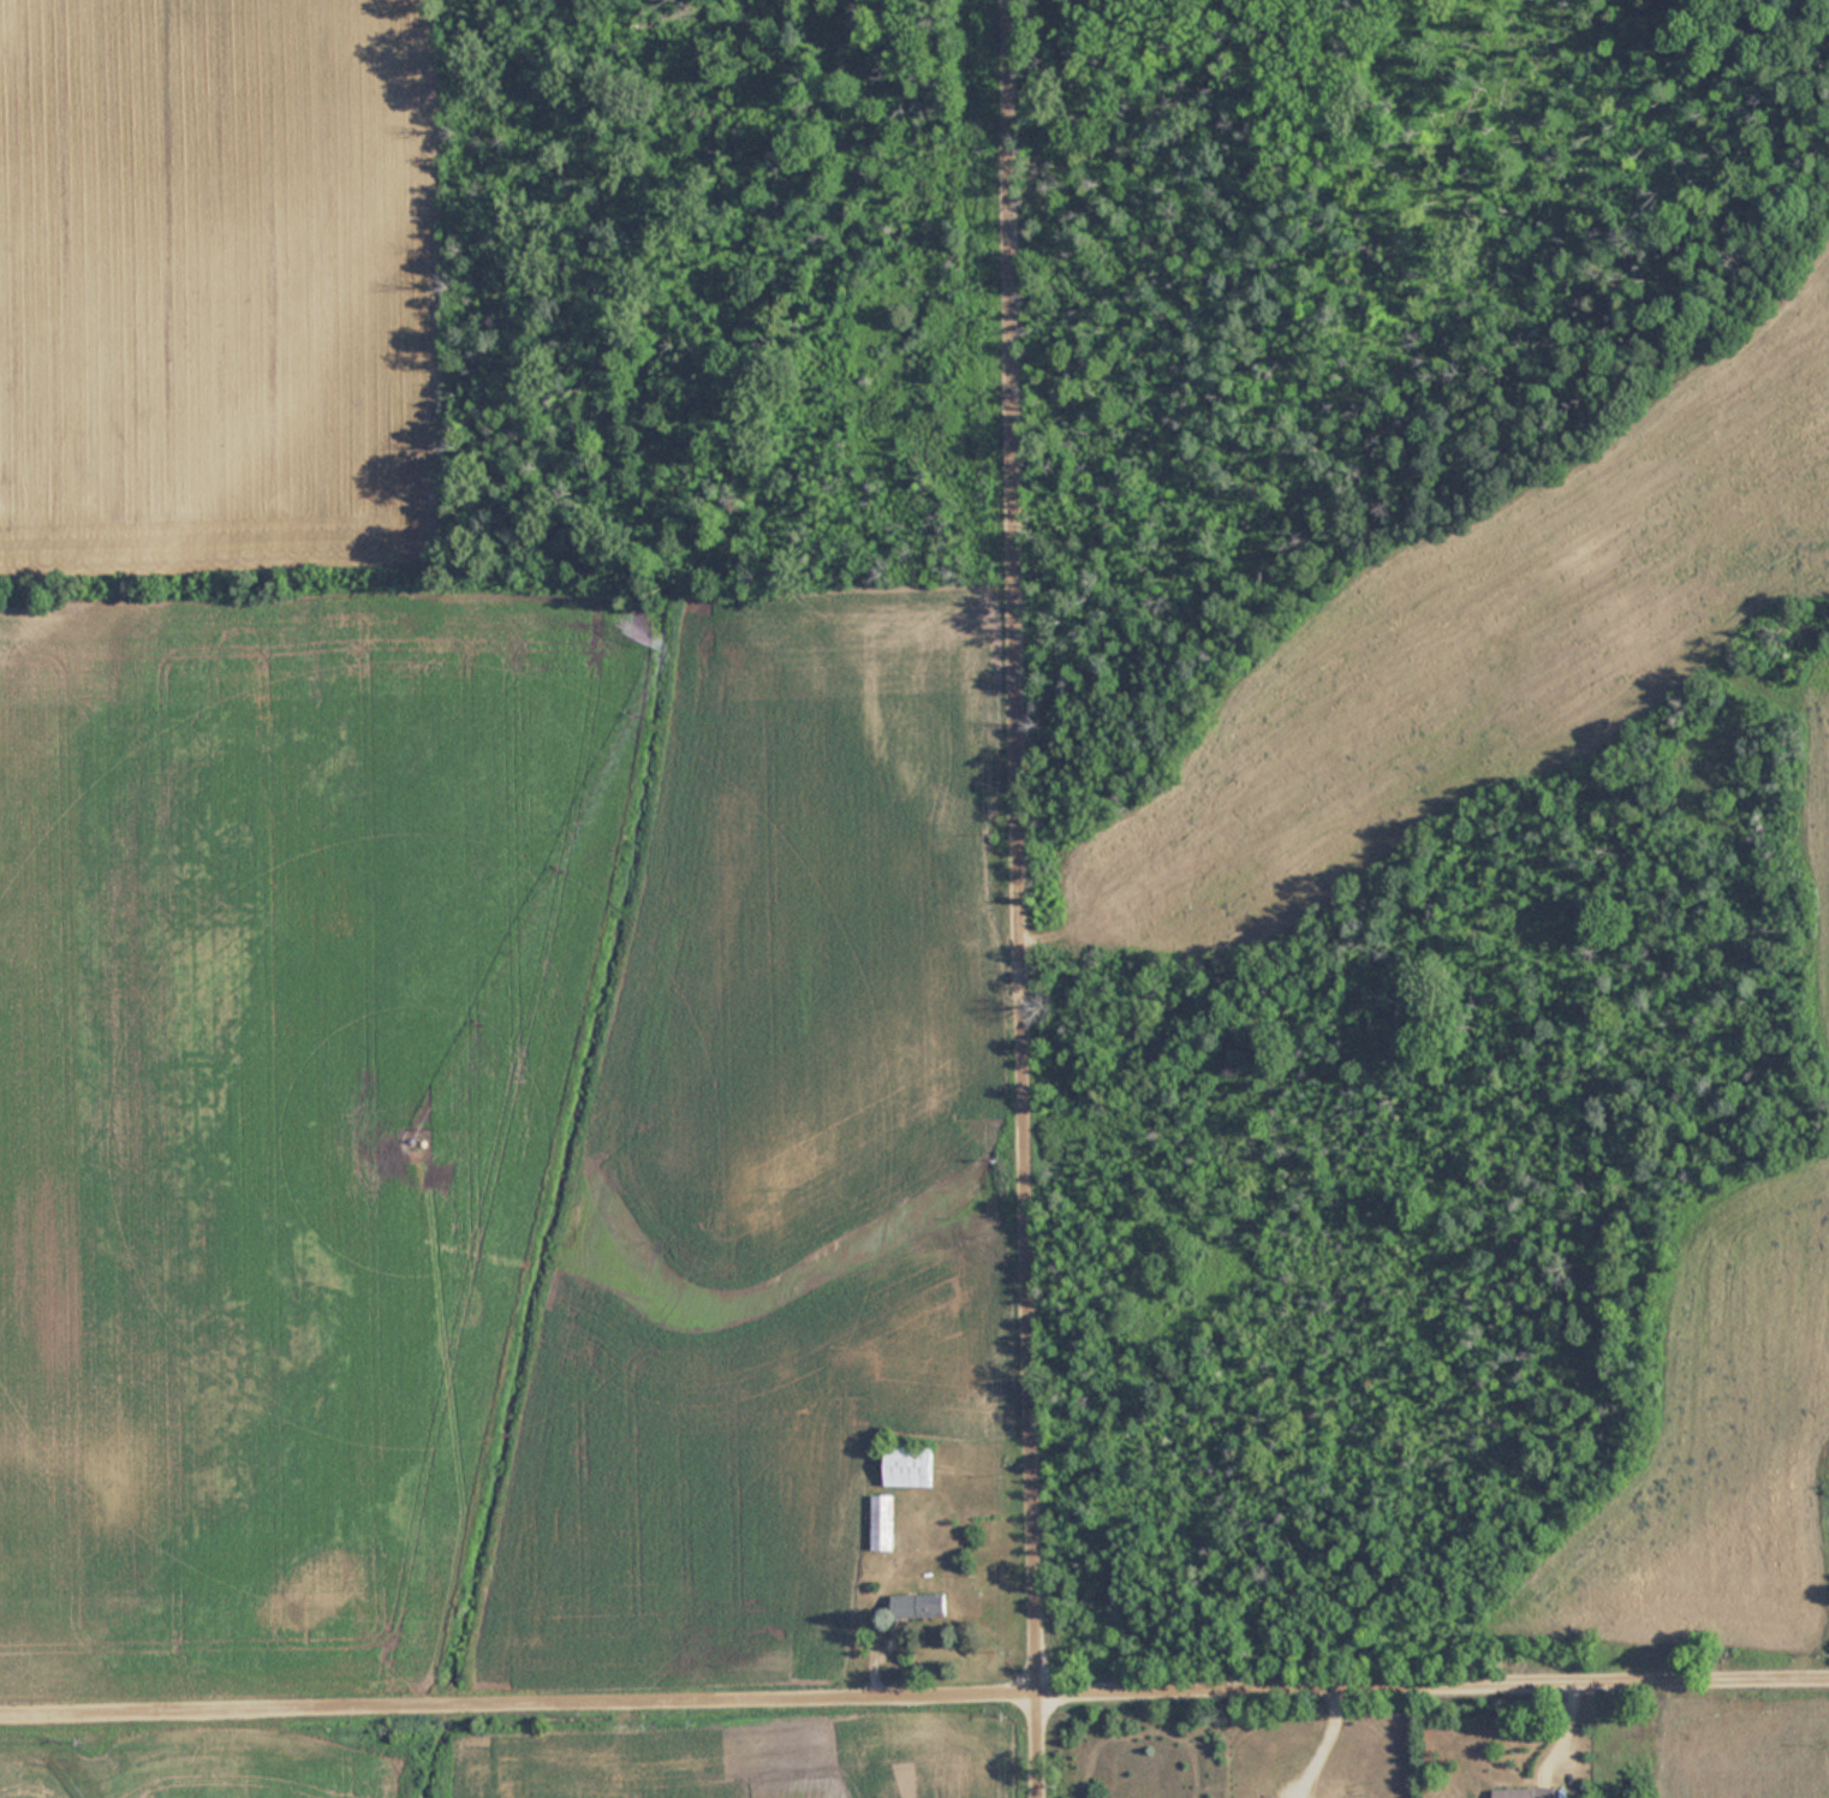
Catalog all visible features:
road: (1024, 849)
building: (908, 1466)
building: (882, 1522)
building: (917, 1606)
road: (1435, 1690)
road: (520, 1711)
road: (1041, 1748)
building: (1525, 1792)

